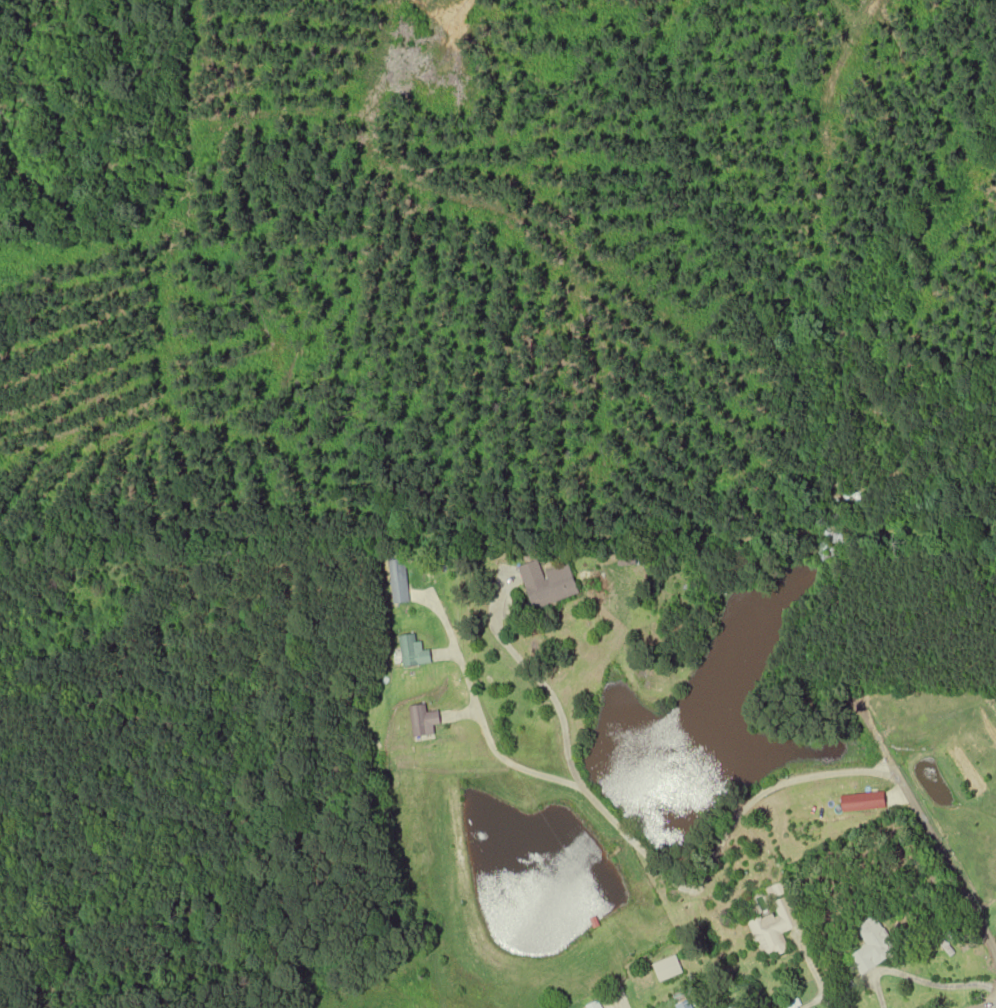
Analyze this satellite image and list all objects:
building: (627, 558)
building: (396, 581)
building: (548, 584)
building: (411, 652)
building: (422, 721)
building: (862, 801)
road: (703, 874)
building: (778, 929)
building: (876, 945)
building: (668, 969)
road: (943, 985)
road: (980, 999)
road: (621, 1000)
building: (594, 1005)
building: (685, 1005)
building: (794, 1005)

